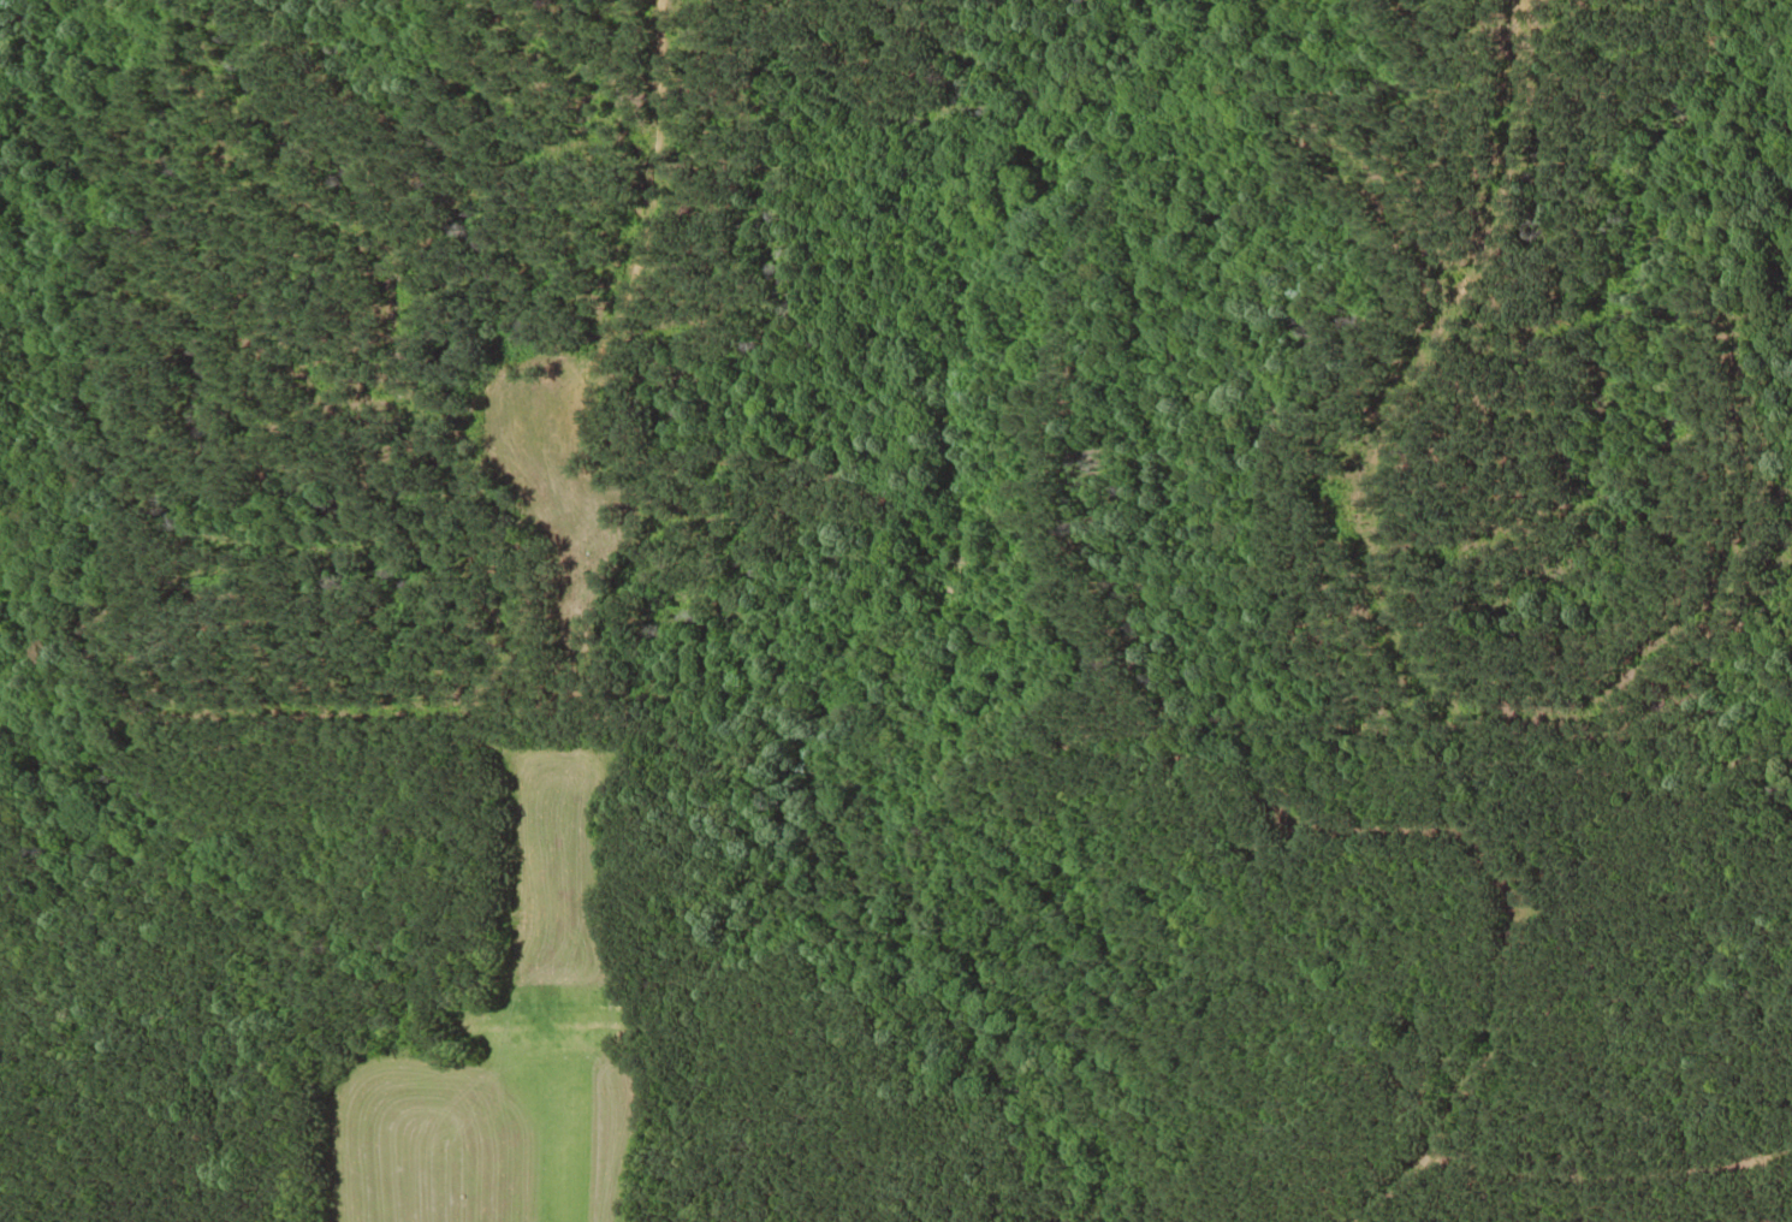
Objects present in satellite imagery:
airport runway: (563, 1105)

